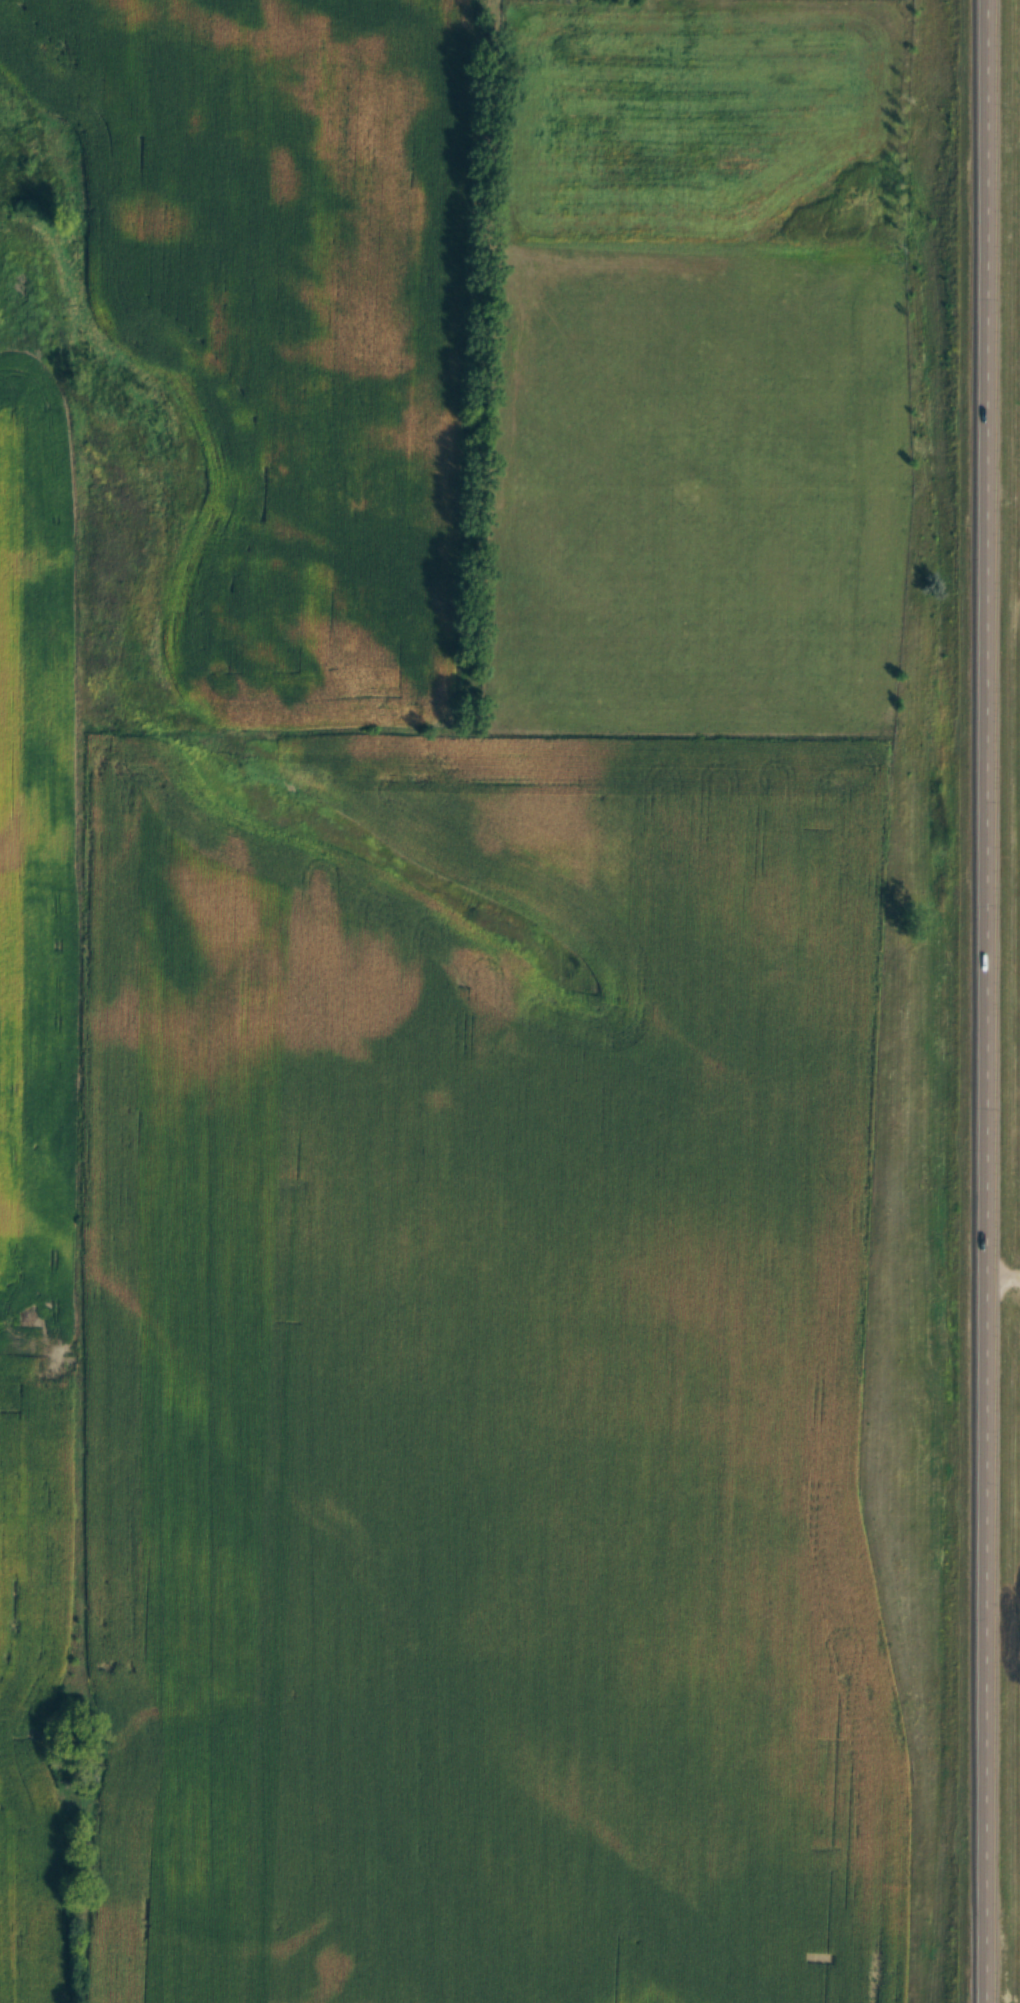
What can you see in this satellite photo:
road: (978, 1001)
road: (999, 1272)

